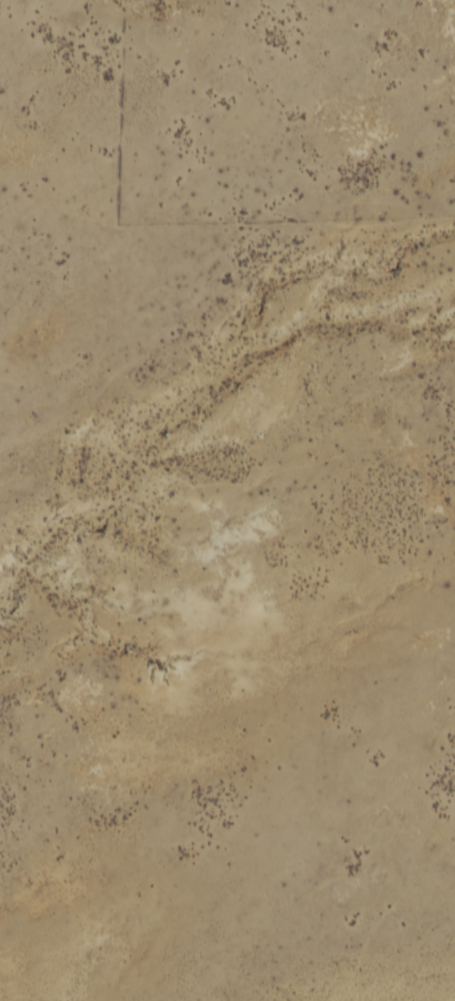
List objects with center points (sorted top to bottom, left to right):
road: (413, 50)

